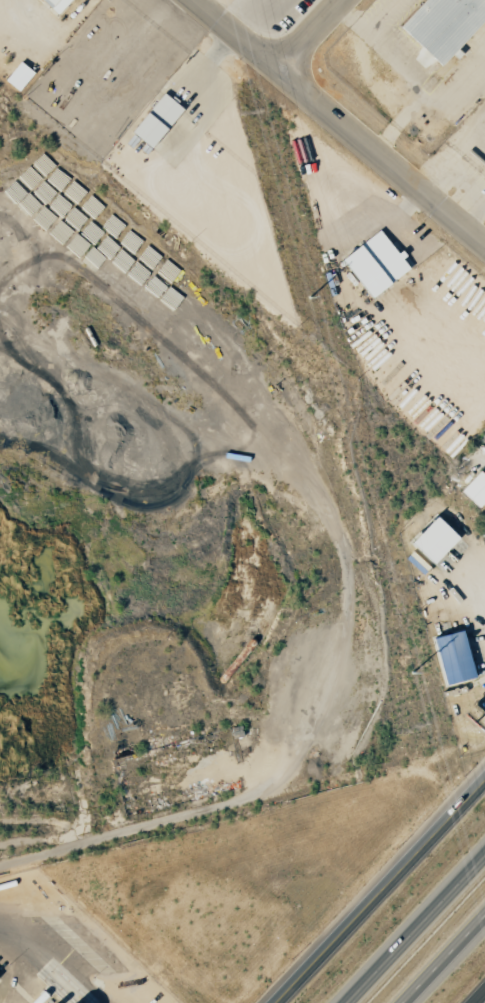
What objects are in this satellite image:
building: (55, 5)
building: (442, 25)
road: (314, 35)
building: (18, 76)
road: (409, 79)
building: (156, 120)
road: (342, 120)
road: (399, 120)
road: (454, 156)
road: (474, 213)
building: (374, 264)
power tower: (310, 297)
building: (475, 490)
building: (433, 540)
building: (452, 658)
power tower: (412, 673)
road: (380, 893)
road: (414, 928)
road: (442, 957)
road: (480, 998)

